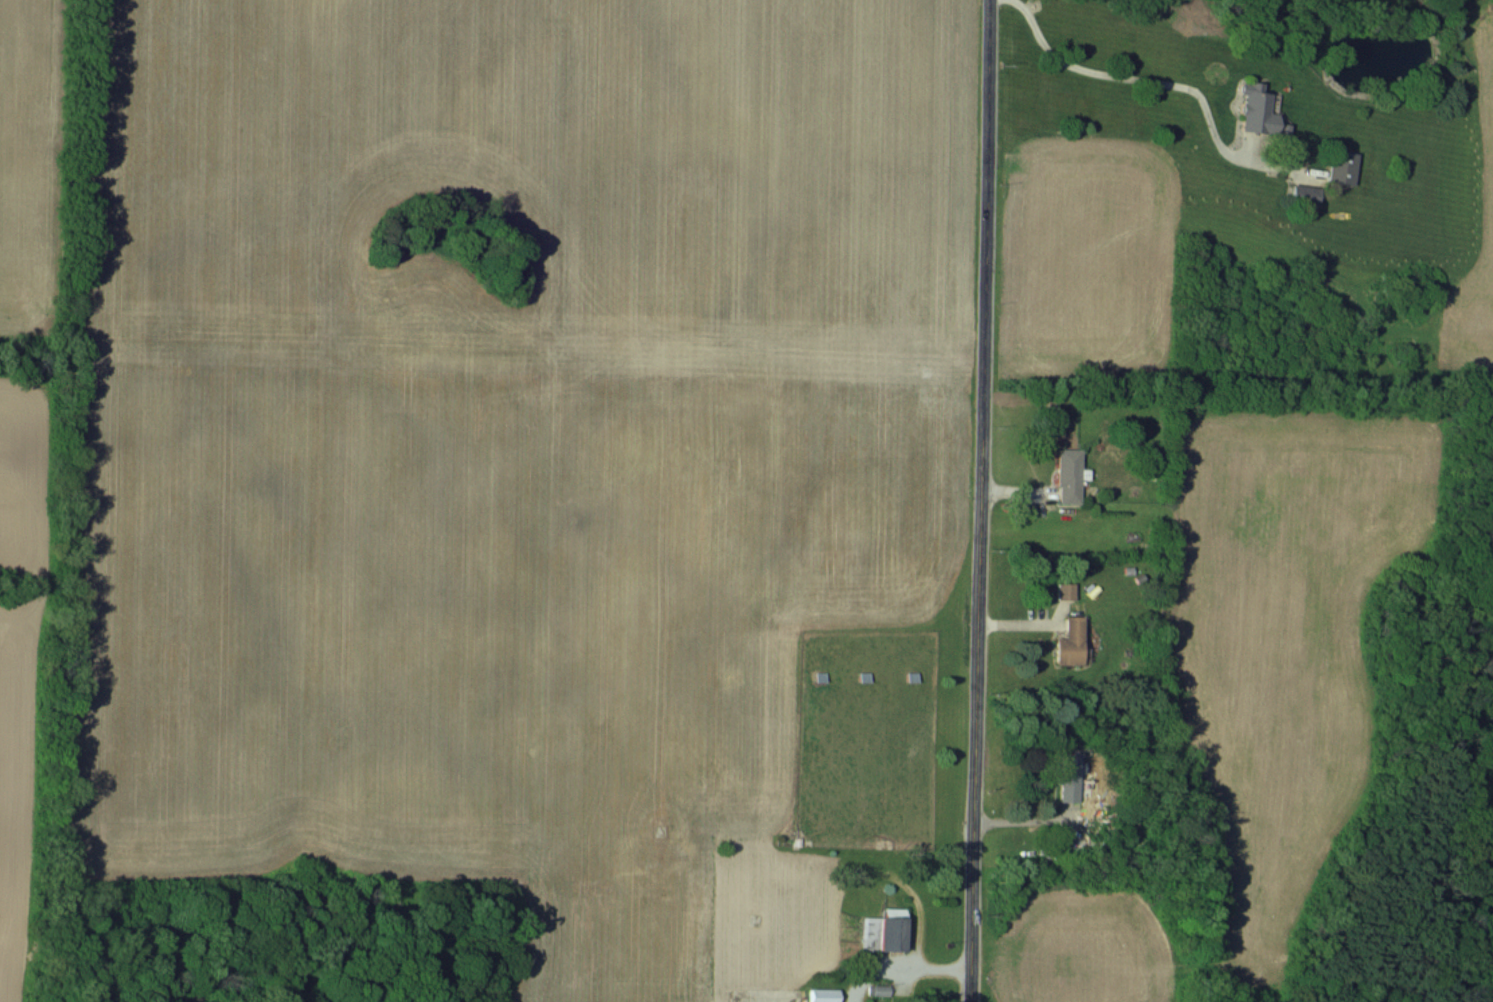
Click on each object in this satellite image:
road: (1140, 77)
building: (1254, 109)
building: (1340, 166)
building: (1302, 193)
crop: (1473, 193)
building: (1072, 476)
road: (983, 500)
building: (1068, 590)
building: (1074, 642)
building: (736, 676)
crop: (1263, 679)
building: (1070, 776)
building: (888, 930)
road: (901, 967)
building: (826, 995)

